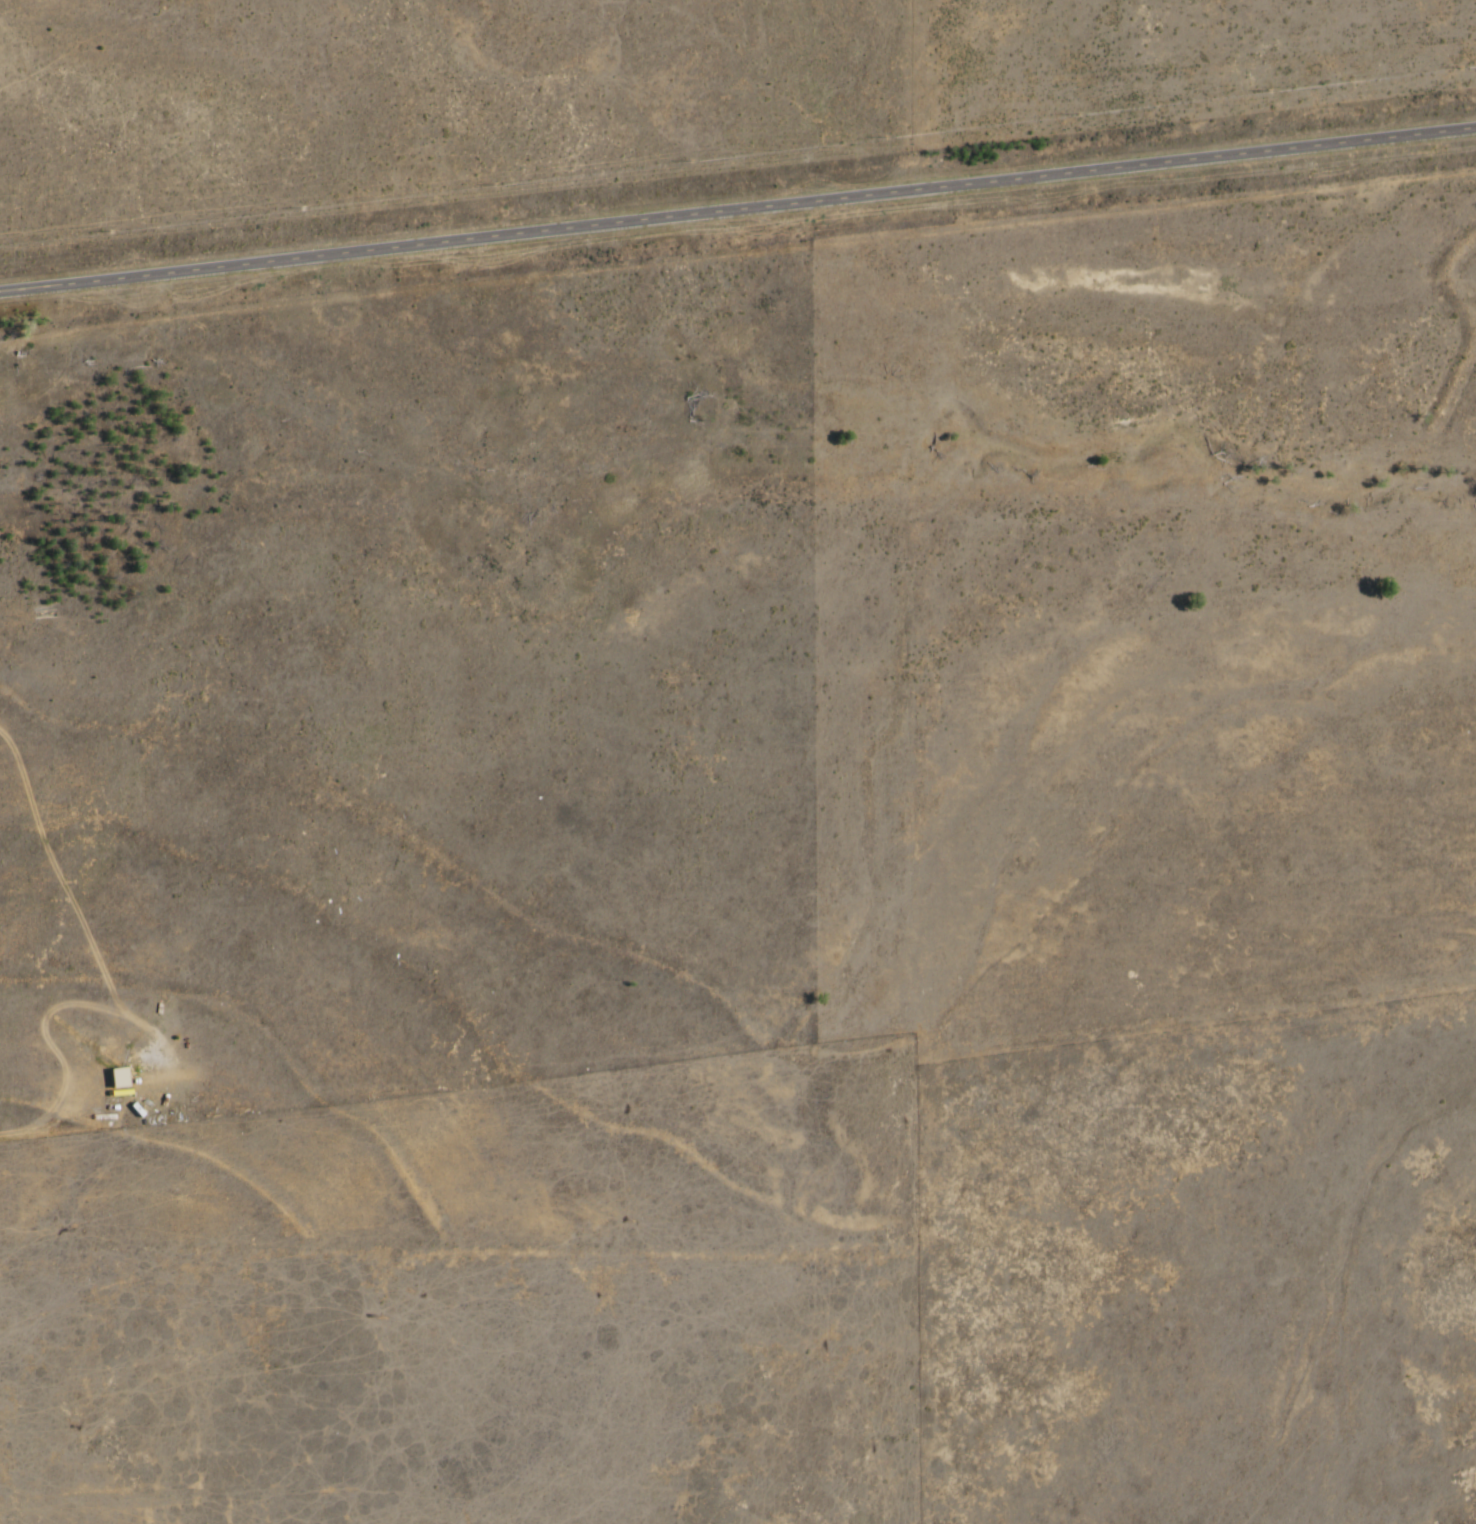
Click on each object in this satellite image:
road: (738, 217)

